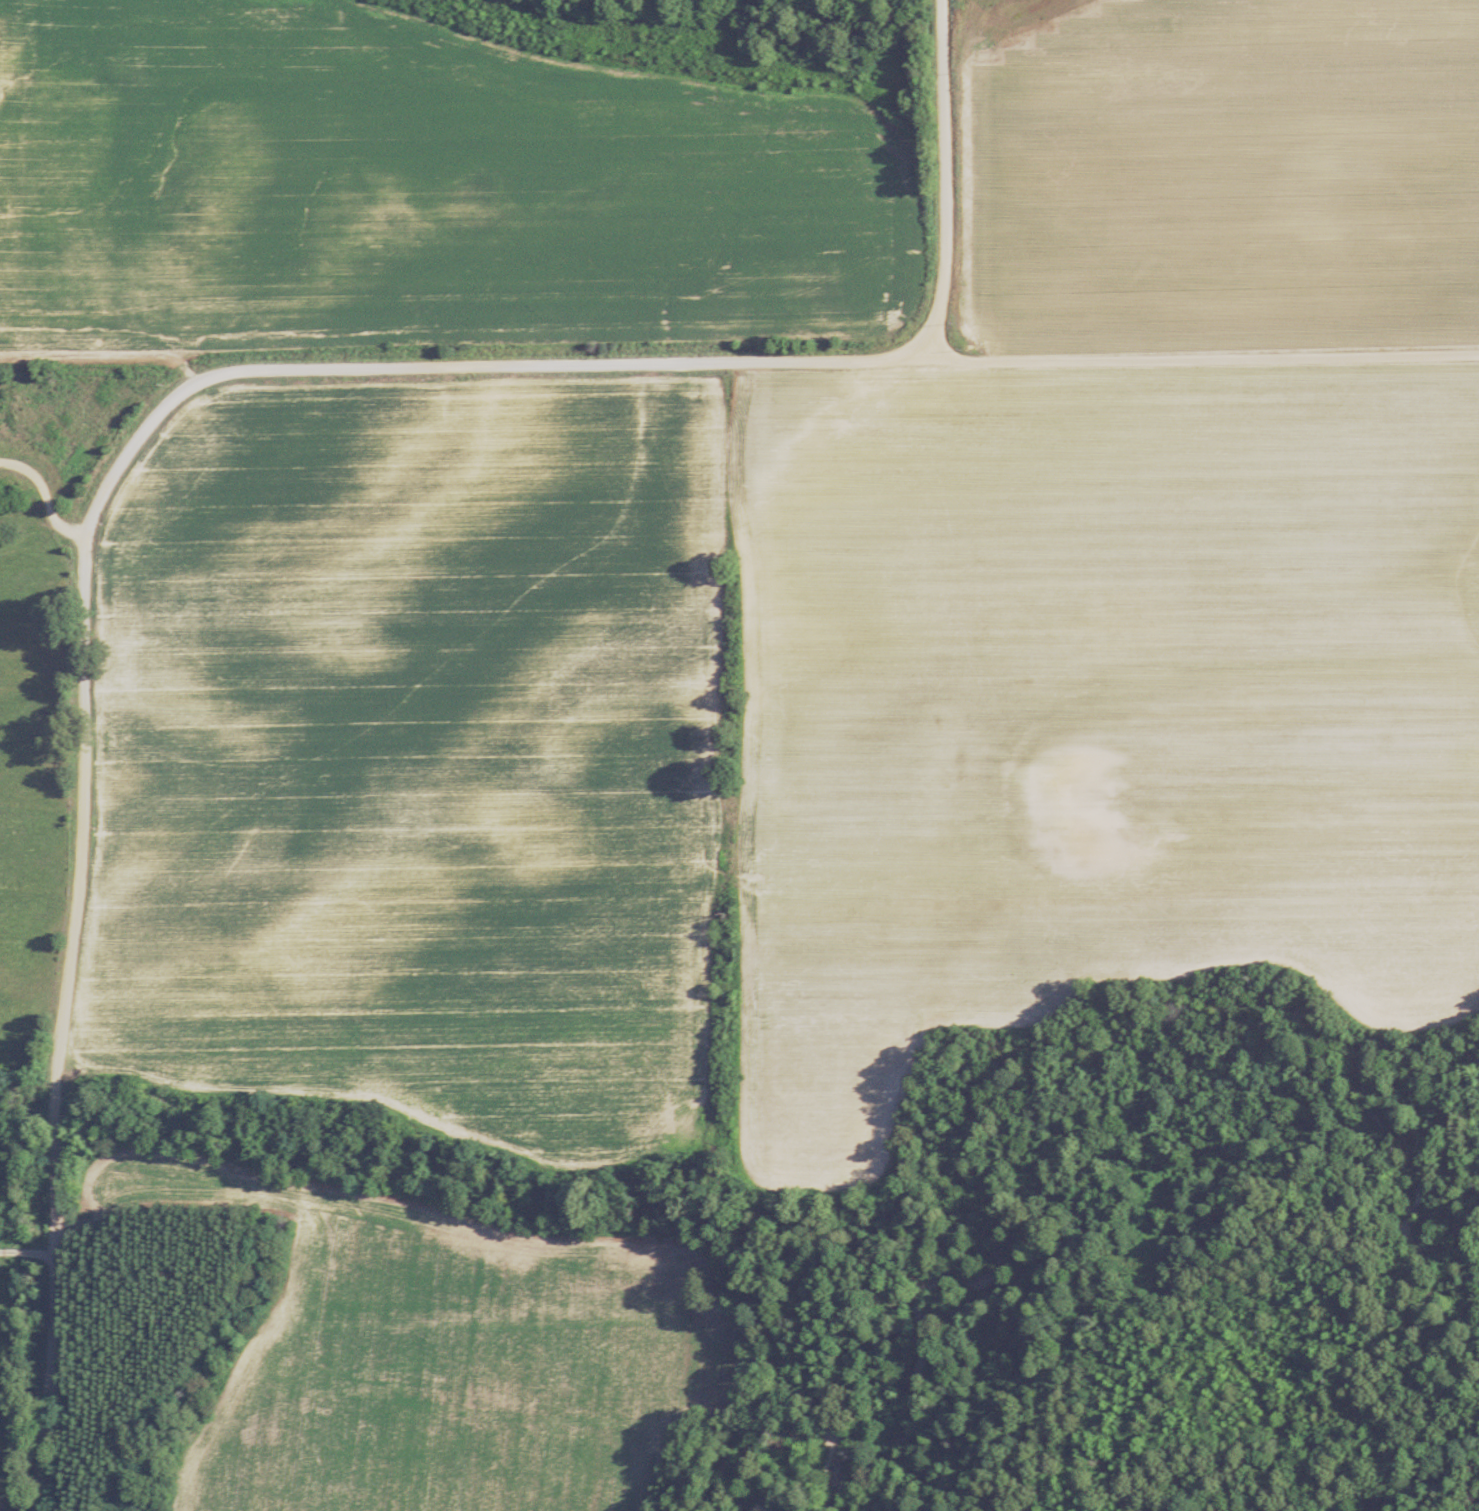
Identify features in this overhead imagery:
road: (942, 171)
road: (1197, 359)
road: (42, 510)
road: (87, 561)

